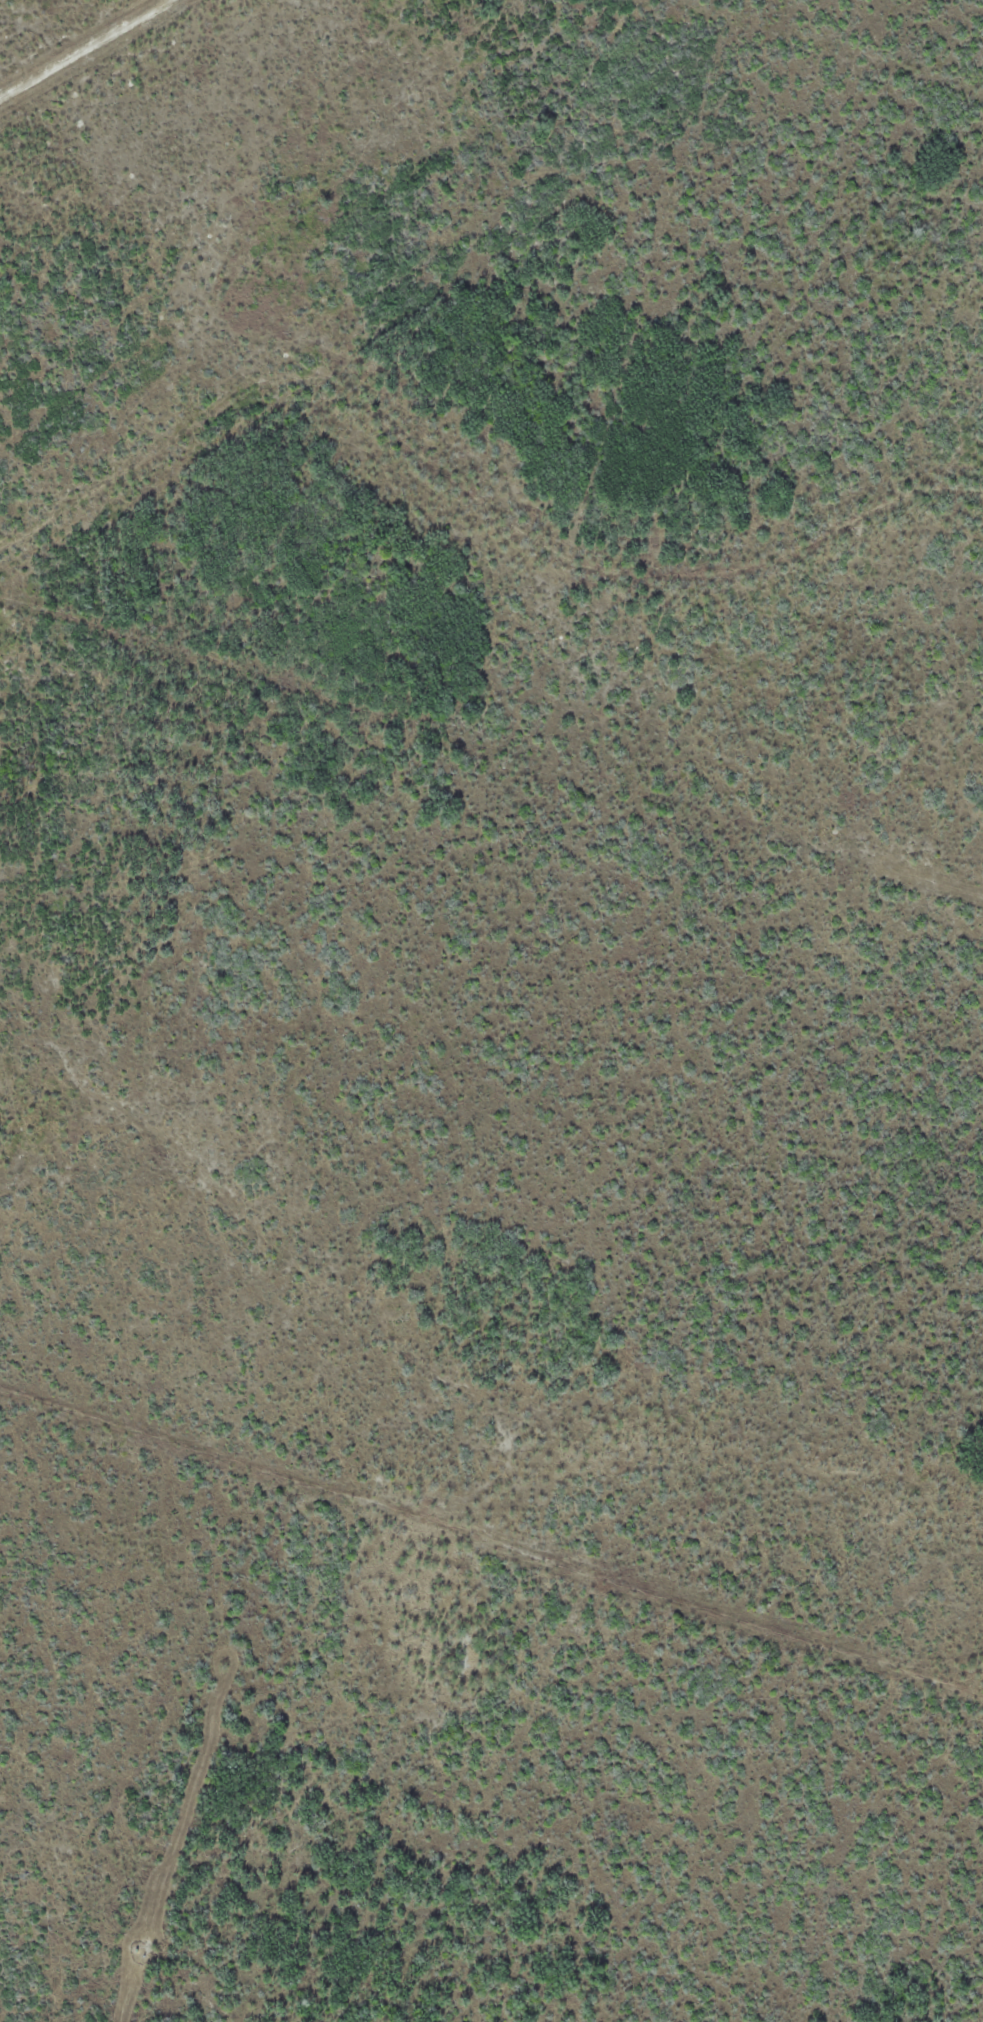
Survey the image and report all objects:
road: (94, 56)

